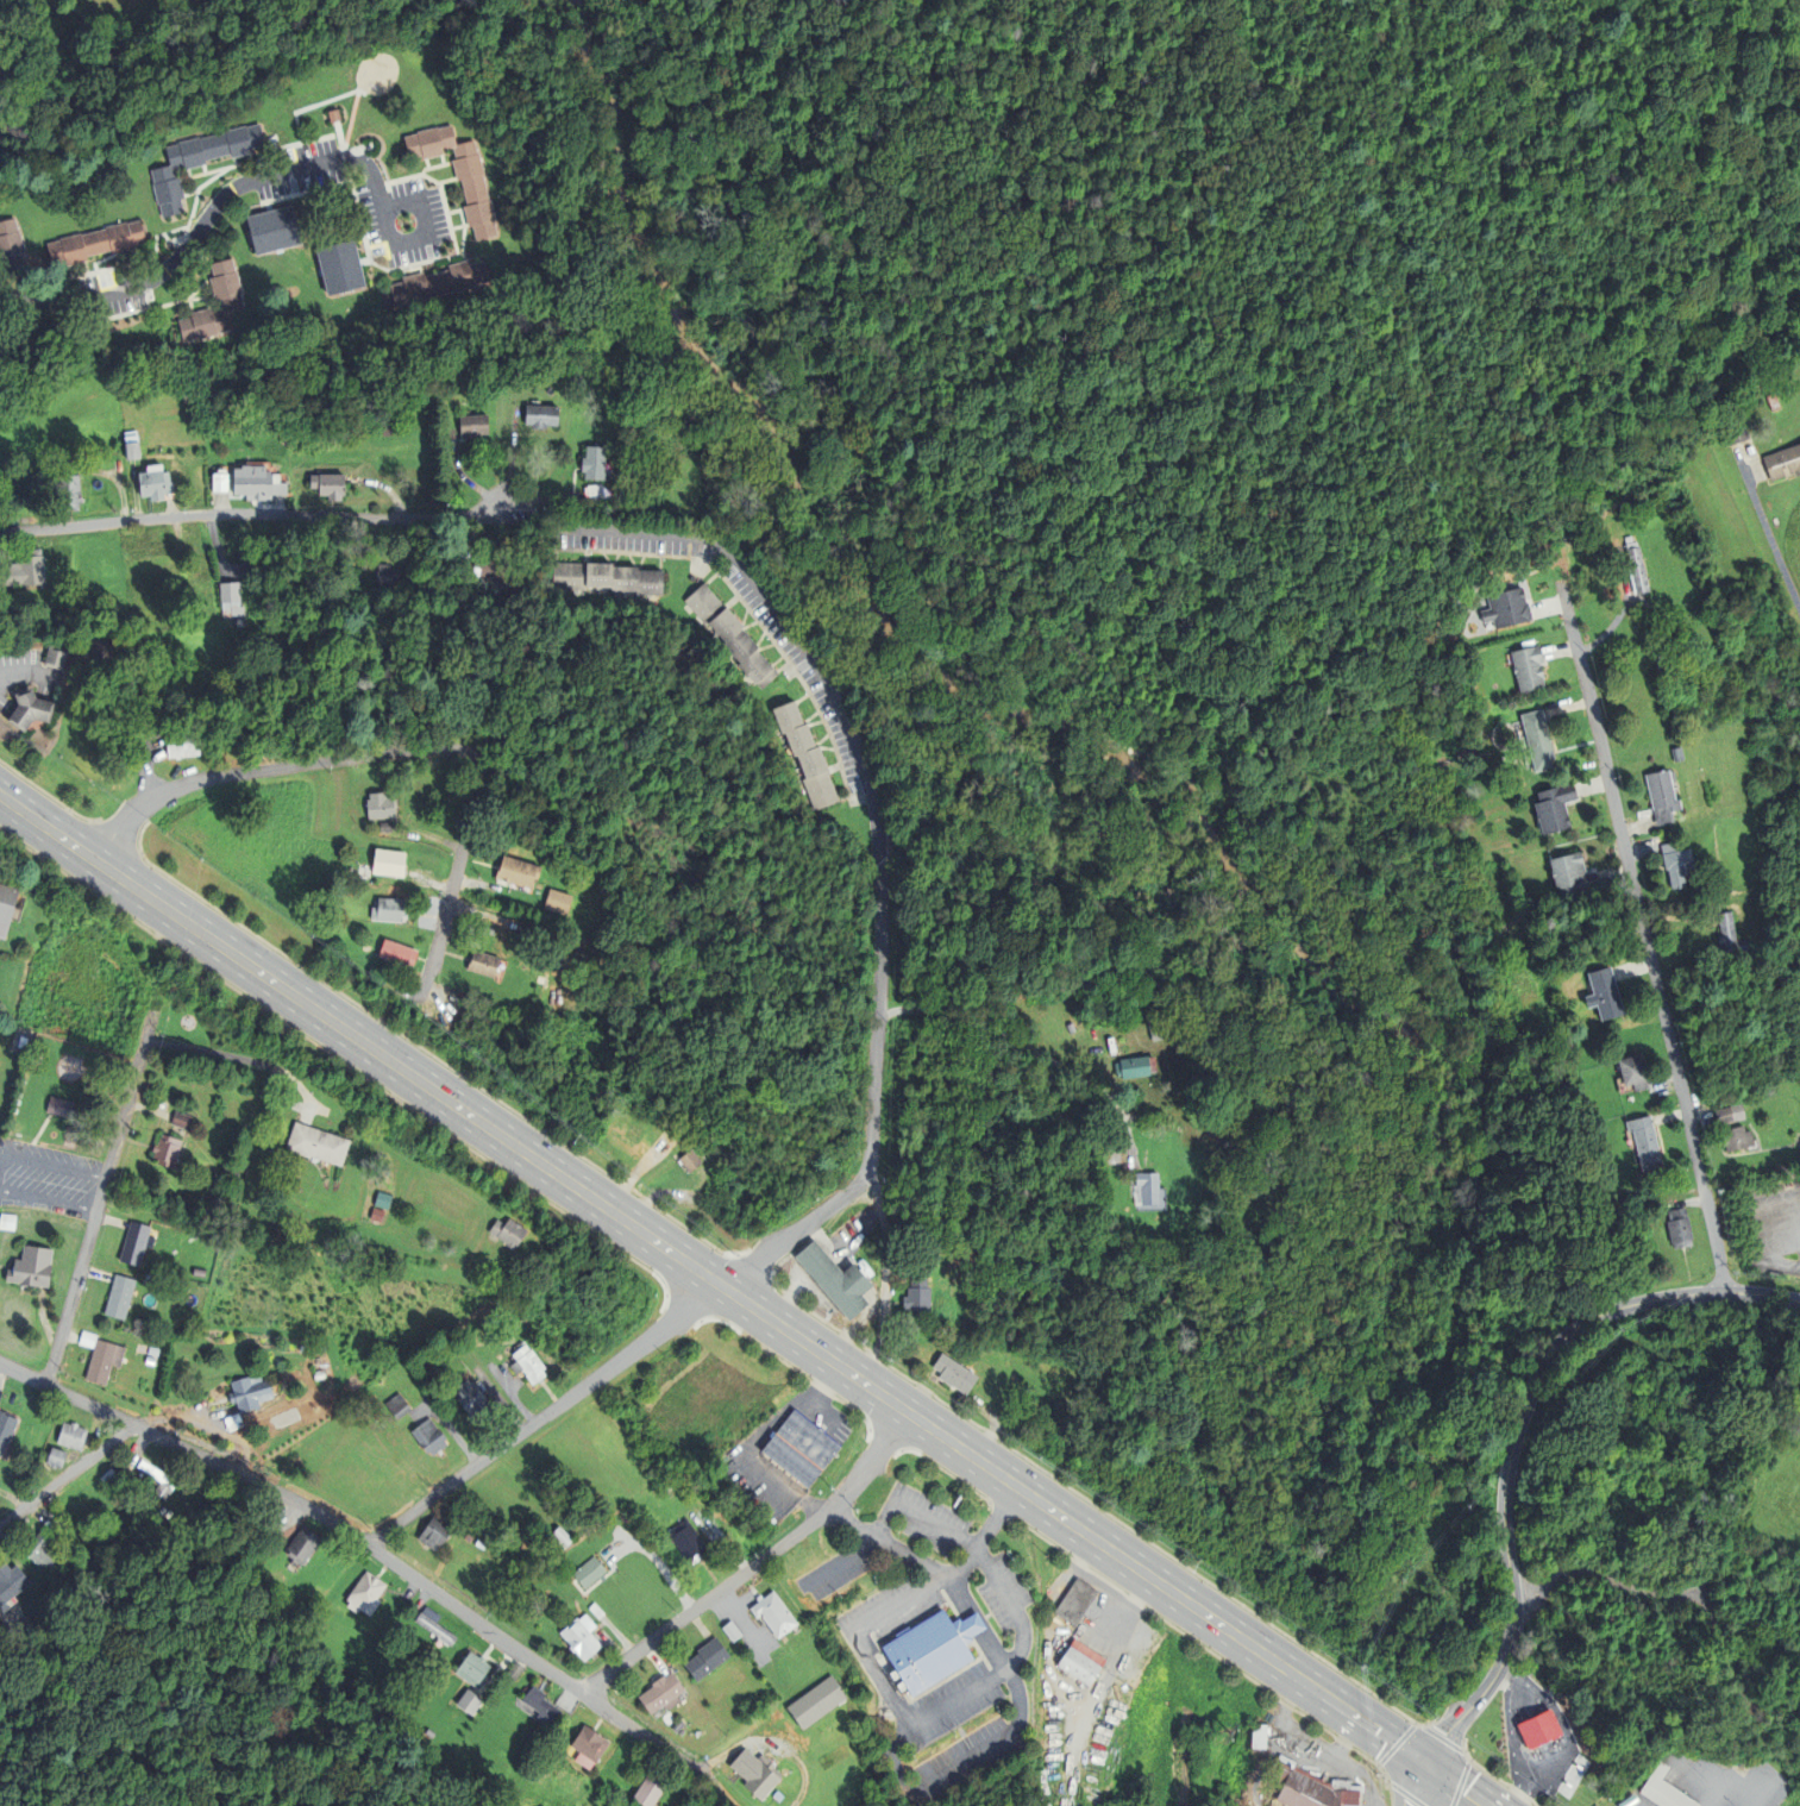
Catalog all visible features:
building: (326, 107)
building: (199, 161)
building: (460, 171)
road: (424, 215)
building: (274, 230)
building: (106, 239)
building: (12, 244)
building: (339, 266)
building: (444, 281)
building: (234, 300)
building: (1787, 391)
storage tank: (1787, 391)
building: (1773, 402)
building: (541, 415)
building: (472, 425)
building: (391, 426)
building: (1736, 429)
building: (134, 440)
building: (594, 462)
building: (1782, 462)
building: (157, 482)
building: (221, 482)
building: (259, 482)
building: (331, 483)
building: (71, 493)
road: (253, 515)
road: (1768, 533)
building: (497, 556)
building: (29, 569)
building: (1637, 570)
building: (493, 572)
building: (384, 575)
building: (603, 578)
building: (234, 598)
building: (1507, 609)
building: (730, 634)
building: (62, 656)
building: (52, 659)
building: (1529, 667)
building: (36, 708)
building: (1538, 739)
building: (183, 744)
road: (855, 752)
road: (384, 753)
building: (807, 755)
building: (1662, 797)
building: (378, 805)
building: (1555, 807)
building: (385, 827)
building: (388, 864)
building: (1676, 864)
building: (518, 872)
building: (1572, 876)
building: (558, 902)
building: (7, 907)
building: (389, 910)
building: (1730, 935)
road: (1645, 938)
building: (397, 954)
building: (483, 964)
building: (1605, 995)
building: (552, 997)
building: (1083, 1005)
building: (1071, 1028)
building: (1155, 1029)
building: (24, 1041)
road: (1022, 1046)
road: (209, 1052)
road: (343, 1062)
building: (1134, 1068)
building: (1633, 1072)
road: (302, 1089)
building: (64, 1106)
building: (1730, 1115)
building: (186, 1120)
building: (626, 1130)
building: (1737, 1139)
building: (321, 1143)
building: (1647, 1147)
building: (171, 1150)
parking lot: (35, 1158)
building: (690, 1159)
road: (49, 1165)
building: (1603, 1172)
building: (238, 1174)
building: (1147, 1187)
road: (101, 1192)
parking lot: (87, 1198)
road: (48, 1199)
building: (387, 1200)
building: (376, 1214)
building: (11, 1222)
building: (1679, 1228)
building: (507, 1231)
road: (795, 1236)
building: (138, 1242)
parking lot: (23, 1247)
building: (37, 1268)
building: (836, 1278)
crop: (338, 1294)
building: (917, 1294)
building: (123, 1296)
road: (744, 1300)
building: (89, 1337)
building: (155, 1350)
road: (769, 1352)
building: (107, 1359)
building: (527, 1363)
building: (954, 1373)
parking lot: (820, 1385)
road: (824, 1386)
building: (255, 1391)
building: (471, 1398)
parking lot: (834, 1401)
building: (396, 1405)
road: (811, 1407)
parking lot: (809, 1409)
road: (545, 1415)
road: (863, 1416)
parking lot: (845, 1426)
building: (8, 1429)
building: (76, 1434)
building: (428, 1436)
road: (1516, 1438)
road: (184, 1447)
building: (799, 1447)
building: (62, 1456)
building: (52, 1457)
road: (748, 1457)
building: (128, 1467)
road: (945, 1472)
building: (111, 1475)
road: (67, 1478)
building: (159, 1478)
building: (14, 1482)
parking lot: (987, 1495)
crop: (1775, 1501)
parking lot: (999, 1516)
building: (55, 1526)
road: (941, 1528)
building: (435, 1530)
building: (522, 1534)
road: (984, 1534)
road: (1039, 1535)
building: (468, 1537)
building: (559, 1538)
building: (688, 1541)
building: (302, 1543)
building: (479, 1544)
road: (725, 1544)
parking lot: (923, 1544)
parking lot: (923, 1544)
parking lot: (992, 1547)
building: (45, 1548)
road: (657, 1561)
road: (757, 1563)
parking lot: (1086, 1567)
parking lot: (1078, 1568)
building: (589, 1572)
parking lot: (1092, 1573)
road: (1089, 1578)
building: (51, 1580)
road: (1106, 1581)
building: (14, 1582)
parking lot: (1119, 1591)
road: (1683, 1591)
building: (364, 1594)
parking lot: (1087, 1598)
parking lot: (1136, 1598)
parking lot: (979, 1601)
parking lot: (979, 1601)
building: (1075, 1601)
building: (51, 1604)
parking lot: (1141, 1606)
building: (284, 1607)
parking lot: (987, 1607)
building: (596, 1610)
building: (773, 1613)
road: (987, 1614)
parking lot: (1017, 1618)
road: (741, 1620)
road: (1127, 1623)
building: (33, 1625)
building: (434, 1625)
parking lot: (871, 1625)
building: (730, 1630)
parking lot: (1074, 1630)
road: (849, 1633)
building: (581, 1636)
road: (619, 1636)
road: (610, 1644)
parking lot: (1121, 1648)
road: (880, 1649)
building: (932, 1649)
road: (1210, 1650)
parking lot: (928, 1651)
parking lot: (928, 1651)
parking lot: (952, 1653)
parking lot: (1095, 1654)
road: (532, 1658)
building: (705, 1658)
road: (656, 1660)
building: (1081, 1661)
parking lot: (1103, 1667)
building: (472, 1669)
building: (514, 1672)
building: (424, 1679)
building: (661, 1693)
parking lot: (1285, 1700)
building: (469, 1701)
building: (816, 1701)
building: (539, 1704)
road: (1091, 1718)
road: (1317, 1723)
road: (1016, 1724)
building: (677, 1727)
parking lot: (1313, 1727)
parking lot: (959, 1730)
road: (961, 1730)
building: (1541, 1730)
parking lot: (955, 1733)
parking lot: (955, 1733)
building: (1265, 1735)
parking lot: (1026, 1737)
road: (1347, 1737)
parking lot: (1284, 1738)
parking lot: (1346, 1742)
road: (1315, 1743)
building: (588, 1745)
parking lot: (1350, 1755)
road: (1473, 1761)
traffic signals: (1424, 1762)
road: (1380, 1768)
building: (755, 1773)
parking lot: (1366, 1774)
parking lot: (943, 1779)
road: (1731, 1780)
parking lot: (1718, 1782)
road: (1413, 1783)
building: (1306, 1787)
building: (650, 1789)
building: (1663, 1789)
parking lot: (1337, 1793)
parking lot: (1385, 1801)
road: (1535, 1802)

